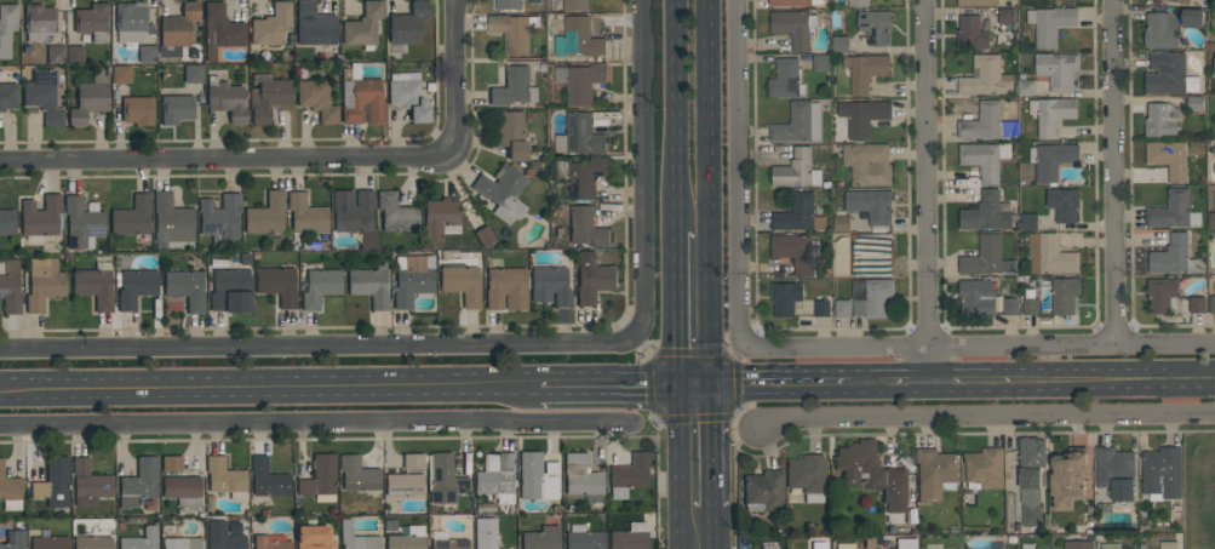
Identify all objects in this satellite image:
building: (1072, 0)
building: (978, 1)
building: (1181, 1)
building: (793, 2)
building: (859, 2)
building: (575, 4)
building: (509, 5)
building: (1007, 15)
building: (1192, 17)
building: (92, 22)
building: (39, 23)
building: (130, 23)
building: (1050, 23)
building: (407, 24)
building: (271, 25)
building: (314, 25)
building: (362, 25)
building: (795, 27)
building: (876, 27)
building: (6, 28)
road: (452, 29)
building: (1160, 29)
building: (177, 30)
building: (514, 30)
building: (219, 32)
building: (972, 33)
building: (578, 38)
building: (841, 44)
building: (55, 55)
building: (74, 55)
building: (147, 55)
building: (821, 62)
building: (1213, 63)
building: (1058, 69)
building: (865, 70)
building: (120, 74)
building: (193, 74)
building: (1169, 74)
building: (986, 76)
building: (786, 79)
building: (581, 81)
building: (1214, 82)
building: (1026, 86)
building: (514, 87)
building: (7, 97)
building: (44, 97)
building: (267, 97)
building: (407, 97)
building: (316, 99)
building: (361, 99)
building: (88, 101)
building: (225, 101)
building: (1194, 103)
building: (176, 109)
building: (137, 111)
building: (1051, 113)
road: (672, 115)
building: (862, 116)
building: (1160, 120)
building: (798, 122)
building: (986, 122)
building: (510, 135)
building: (579, 135)
road: (276, 158)
building: (1169, 158)
building: (985, 159)
building: (1053, 160)
road: (741, 164)
building: (869, 164)
building: (797, 170)
road: (1119, 170)
road: (643, 171)
building: (581, 175)
road: (707, 191)
road: (930, 191)
building: (503, 193)
building: (1064, 204)
building: (871, 205)
building: (1171, 210)
building: (986, 212)
building: (396, 213)
building: (798, 213)
building: (267, 216)
building: (355, 216)
building: (41, 217)
building: (132, 217)
building: (304, 217)
building: (219, 219)
building: (441, 219)
building: (1211, 219)
building: (7, 222)
building: (171, 222)
building: (1030, 222)
building: (82, 223)
building: (842, 223)
building: (586, 227)
building: (483, 236)
building: (793, 251)
building: (871, 255)
building: (1049, 255)
building: (841, 256)
building: (1173, 256)
building: (986, 257)
building: (592, 278)
building: (412, 279)
building: (44, 284)
building: (460, 284)
building: (94, 285)
building: (277, 285)
building: (369, 285)
building: (550, 286)
building: (10, 287)
building: (136, 287)
building: (320, 287)
building: (505, 288)
building: (187, 290)
building: (230, 291)
building: (1064, 294)
building: (1163, 294)
building: (871, 296)
building: (785, 297)
building: (976, 297)
building: (1197, 304)
building: (1213, 304)
building: (1010, 305)
road: (674, 307)
building: (1031, 307)
building: (823, 308)
building: (843, 308)
road: (978, 341)
road: (317, 348)
road: (604, 383)
traffic signals: (675, 383)
traffic signals: (710, 384)
road: (761, 384)
road: (1073, 384)
road: (867, 385)
road: (909, 385)
road: (268, 388)
road: (990, 418)
road: (316, 423)
road: (711, 446)
building: (412, 462)
building: (171, 464)
road: (675, 465)
building: (984, 469)
building: (1114, 471)
building: (872, 473)
building: (1162, 473)
building: (356, 474)
building: (934, 474)
building: (629, 475)
building: (495, 476)
building: (580, 476)
building: (806, 476)
building: (225, 477)
building: (537, 477)
building: (1068, 477)
building: (268, 479)
building: (320, 479)
building: (1031, 479)
building: (442, 480)
building: (53, 484)
building: (88, 484)
building: (139, 484)
building: (403, 485)
building: (10, 491)
building: (182, 491)
building: (762, 492)
road: (712, 528)
building: (485, 533)
building: (223, 537)
building: (630, 537)
building: (314, 538)
building: (355, 538)
building: (407, 538)
building: (540, 538)
building: (583, 538)
building: (13, 539)
building: (141, 539)
building: (48, 541)
building: (271, 542)
building: (446, 542)
building: (92, 543)
building: (182, 543)
building: (905, 544)
building: (1078, 544)
building: (1168, 544)
building: (818, 545)
building: (1110, 545)
building: (770, 547)
building: (843, 547)

